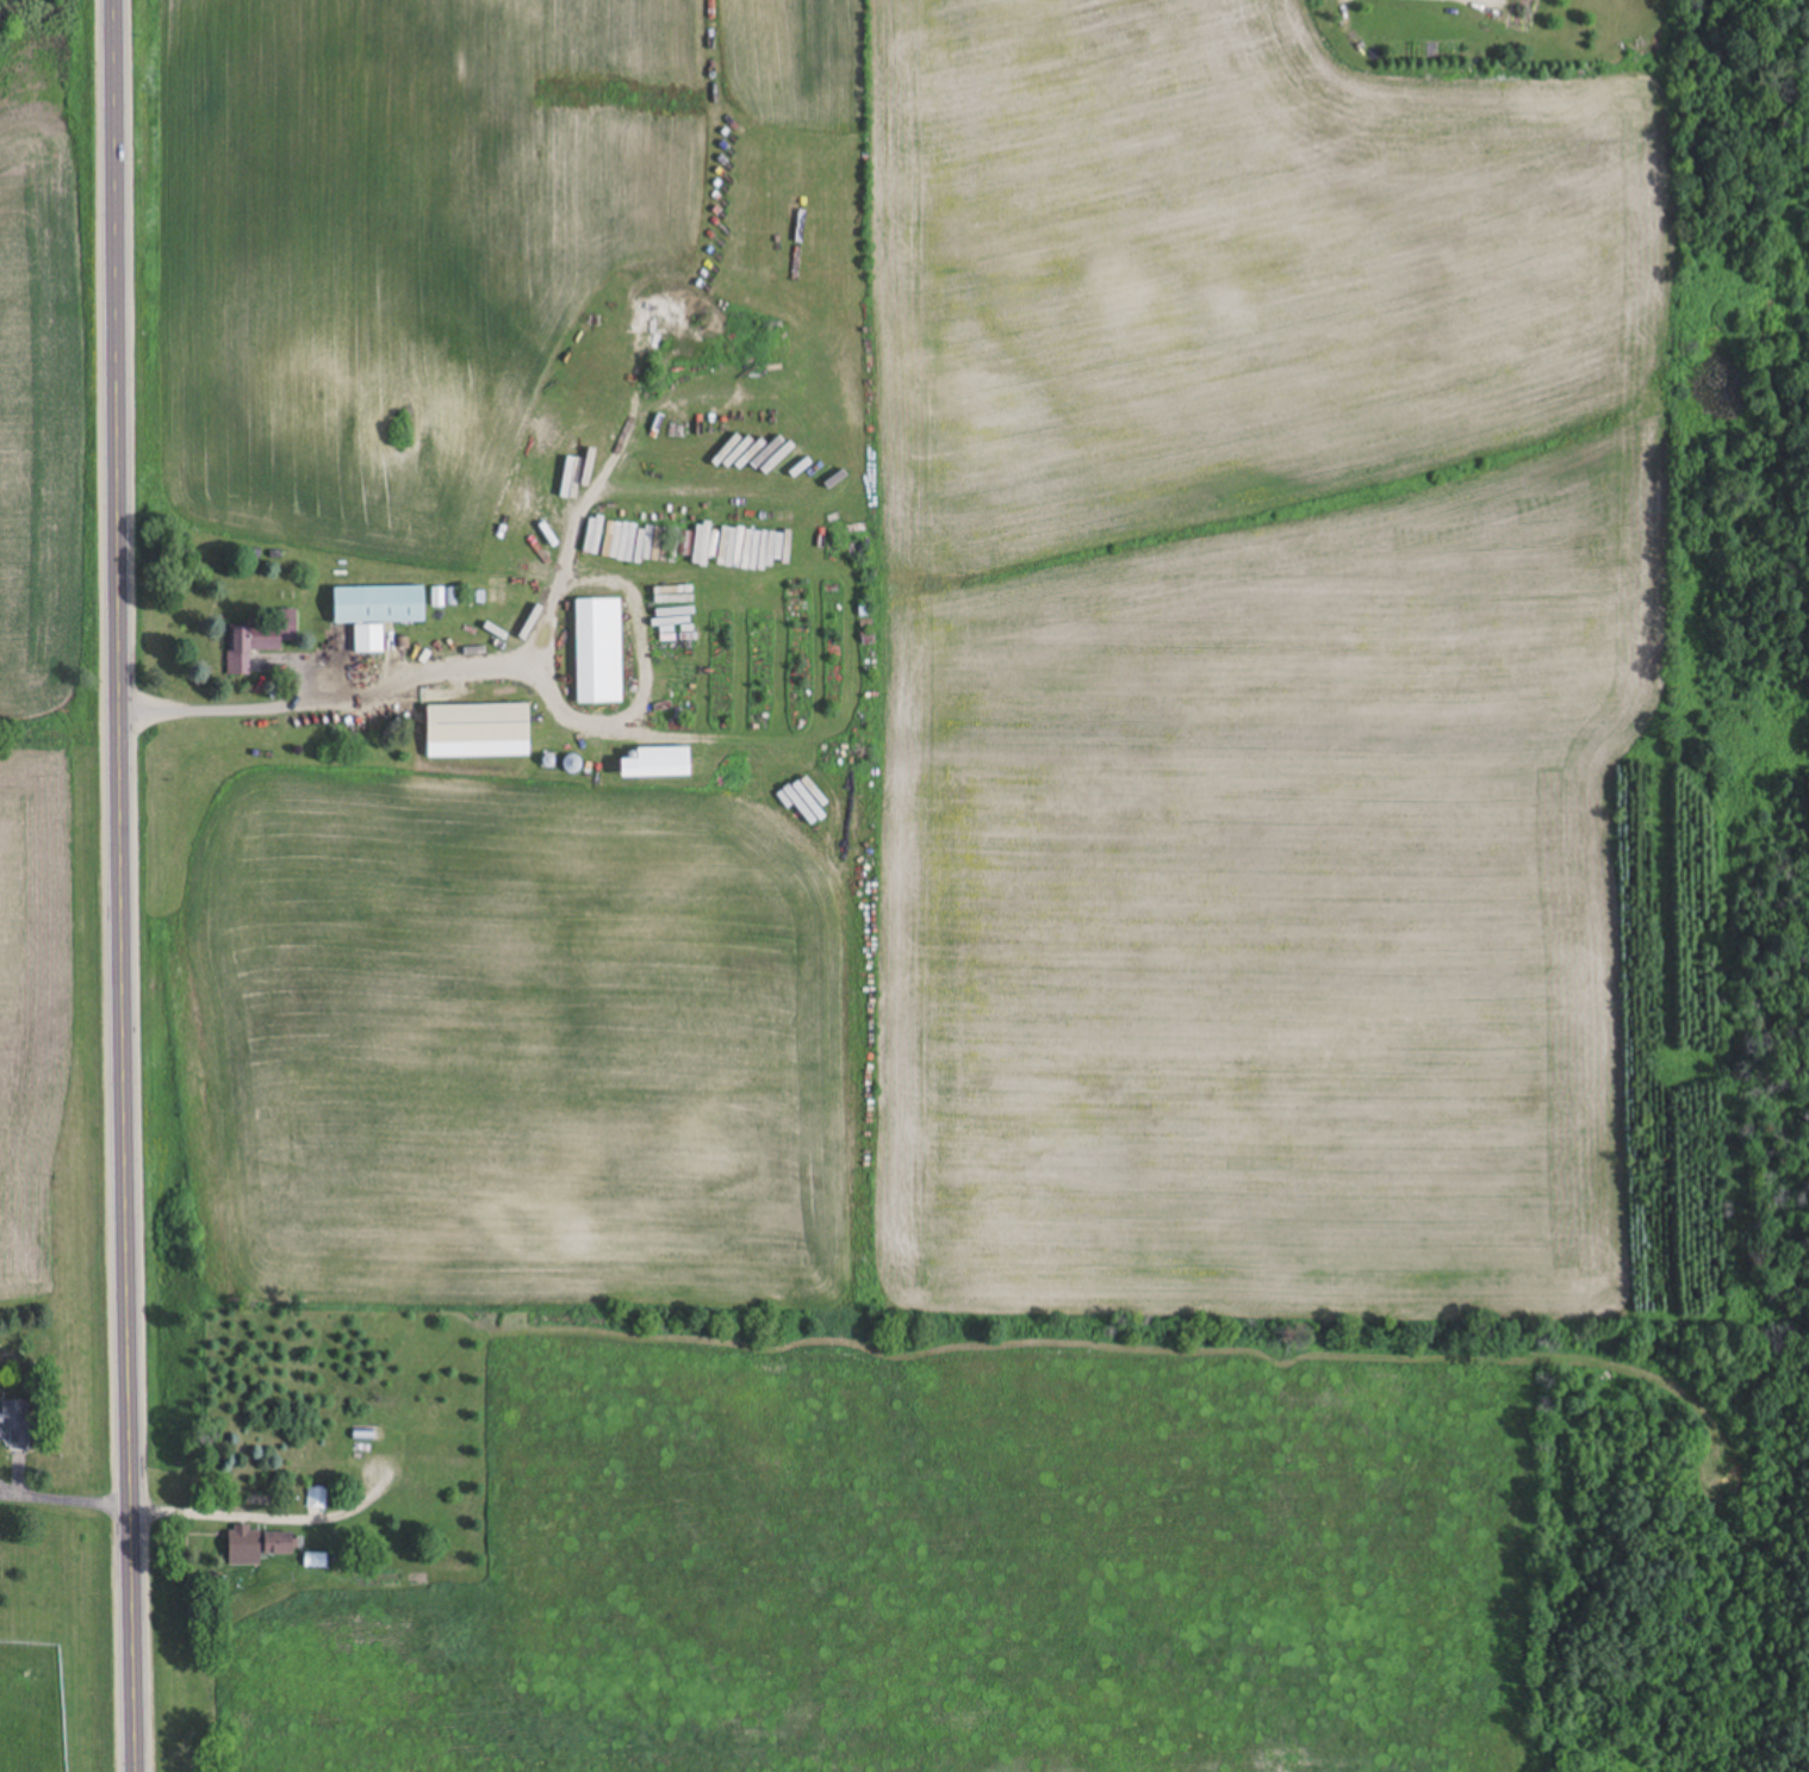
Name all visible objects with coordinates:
building: (377, 614)
building: (257, 636)
building: (599, 652)
building: (478, 732)
building: (659, 765)
road: (122, 885)
building: (17, 1425)
building: (373, 1437)
building: (423, 1454)
building: (316, 1499)
road: (69, 1503)
road: (261, 1517)
building: (280, 1546)

